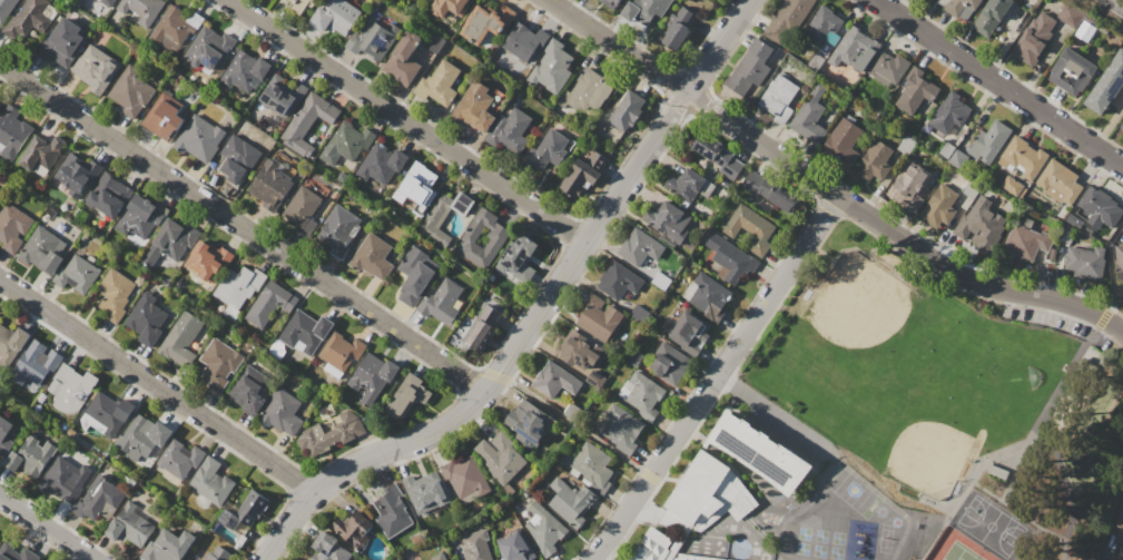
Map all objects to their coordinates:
road: (1121, 0)
building: (107, 2)
building: (610, 3)
building: (301, 6)
building: (449, 7)
building: (959, 8)
building: (7, 9)
building: (141, 9)
building: (644, 10)
building: (1071, 14)
building: (335, 16)
building: (991, 16)
building: (32, 17)
building: (486, 21)
building: (787, 21)
building: (821, 24)
building: (170, 28)
building: (678, 29)
building: (1034, 39)
building: (374, 40)
building: (524, 41)
building: (62, 43)
building: (435, 43)
road: (614, 47)
building: (208, 48)
building: (854, 49)
building: (403, 58)
building: (750, 67)
building: (888, 67)
building: (551, 68)
building: (96, 69)
building: (245, 71)
building: (1071, 71)
building: (439, 83)
road: (998, 83)
building: (1106, 85)
building: (916, 90)
building: (131, 92)
building: (590, 92)
building: (282, 95)
building: (779, 98)
building: (1, 102)
building: (474, 106)
building: (627, 110)
building: (949, 114)
building: (164, 116)
building: (809, 117)
road: (405, 121)
building: (306, 122)
building: (1122, 125)
building: (11, 132)
building: (510, 132)
building: (199, 138)
building: (843, 141)
building: (988, 141)
building: (346, 143)
road: (760, 146)
building: (549, 149)
building: (41, 151)
building: (718, 156)
building: (1023, 156)
building: (237, 157)
building: (956, 157)
building: (874, 161)
building: (381, 164)
building: (77, 174)
building: (581, 175)
building: (270, 181)
building: (1058, 181)
building: (684, 184)
building: (908, 186)
building: (1011, 186)
building: (416, 187)
building: (770, 193)
building: (0, 196)
building: (108, 196)
building: (302, 206)
building: (939, 206)
building: (1099, 207)
building: (443, 216)
building: (139, 217)
building: (668, 220)
building: (12, 226)
building: (979, 226)
road: (243, 227)
building: (752, 228)
building: (338, 229)
road: (885, 229)
road: (812, 232)
building: (483, 238)
building: (169, 242)
building: (1024, 243)
building: (639, 247)
building: (41, 250)
building: (372, 257)
building: (519, 258)
building: (730, 259)
building: (208, 261)
building: (1085, 262)
building: (1119, 262)
building: (77, 274)
building: (415, 274)
building: (619, 282)
building: (238, 285)
building: (114, 294)
road: (1017, 294)
building: (709, 297)
building: (442, 302)
building: (269, 304)
road: (536, 315)
building: (598, 317)
building: (146, 320)
road: (1113, 326)
building: (481, 328)
building: (305, 331)
building: (688, 331)
building: (181, 341)
building: (11, 342)
building: (575, 348)
building: (342, 351)
building: (37, 364)
building: (219, 364)
building: (669, 364)
building: (372, 376)
building: (555, 380)
road: (728, 381)
road: (1064, 386)
road: (156, 387)
building: (70, 389)
building: (248, 390)
building: (643, 395)
building: (407, 396)
park: (945, 397)
building: (109, 412)
building: (282, 412)
road: (690, 414)
road: (784, 417)
building: (528, 423)
road: (574, 424)
building: (621, 429)
building: (6, 433)
building: (331, 433)
building: (144, 435)
building: (761, 452)
building: (30, 456)
building: (504, 458)
building: (179, 459)
building: (591, 463)
building: (465, 477)
building: (62, 480)
road: (971, 480)
building: (210, 482)
building: (698, 489)
building: (425, 491)
building: (99, 500)
building: (570, 502)
building: (244, 511)
building: (392, 511)
building: (129, 527)
road: (45, 529)
building: (544, 529)
building: (355, 531)
building: (1122, 532)
building: (168, 546)
building: (652, 546)
building: (476, 547)
building: (515, 547)
park: (954, 547)
building: (328, 548)
building: (217, 552)
building: (14, 553)
building: (1120, 554)
building: (437, 557)
building: (693, 558)

